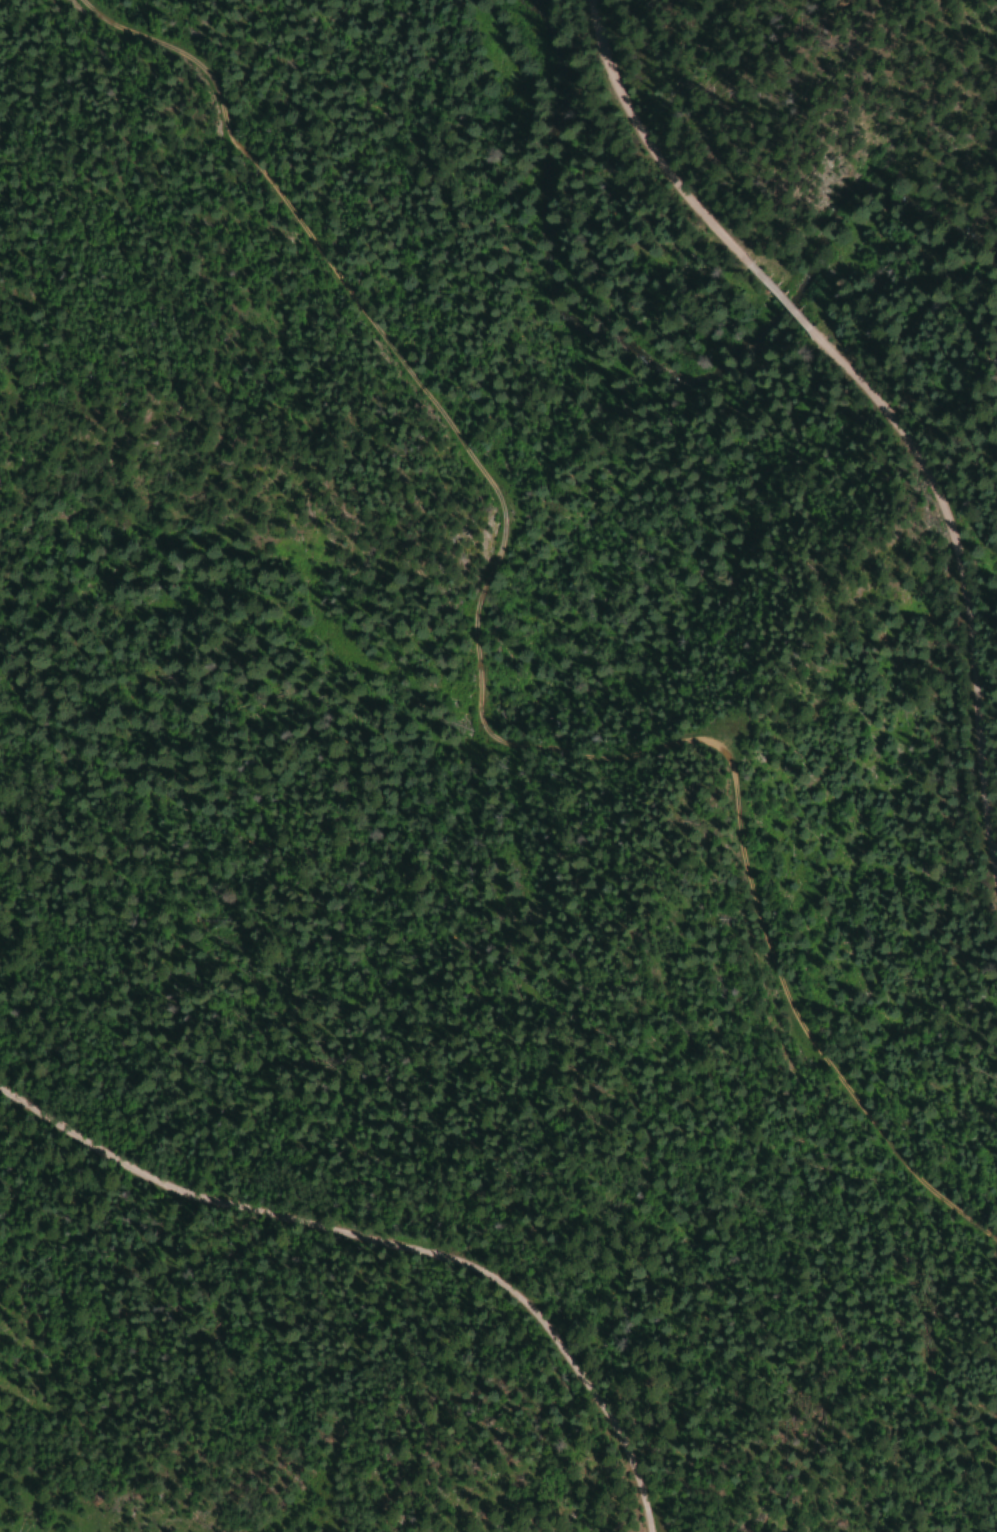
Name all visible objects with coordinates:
road: (653, 140)
road: (781, 302)
road: (960, 593)
road: (387, 1238)

